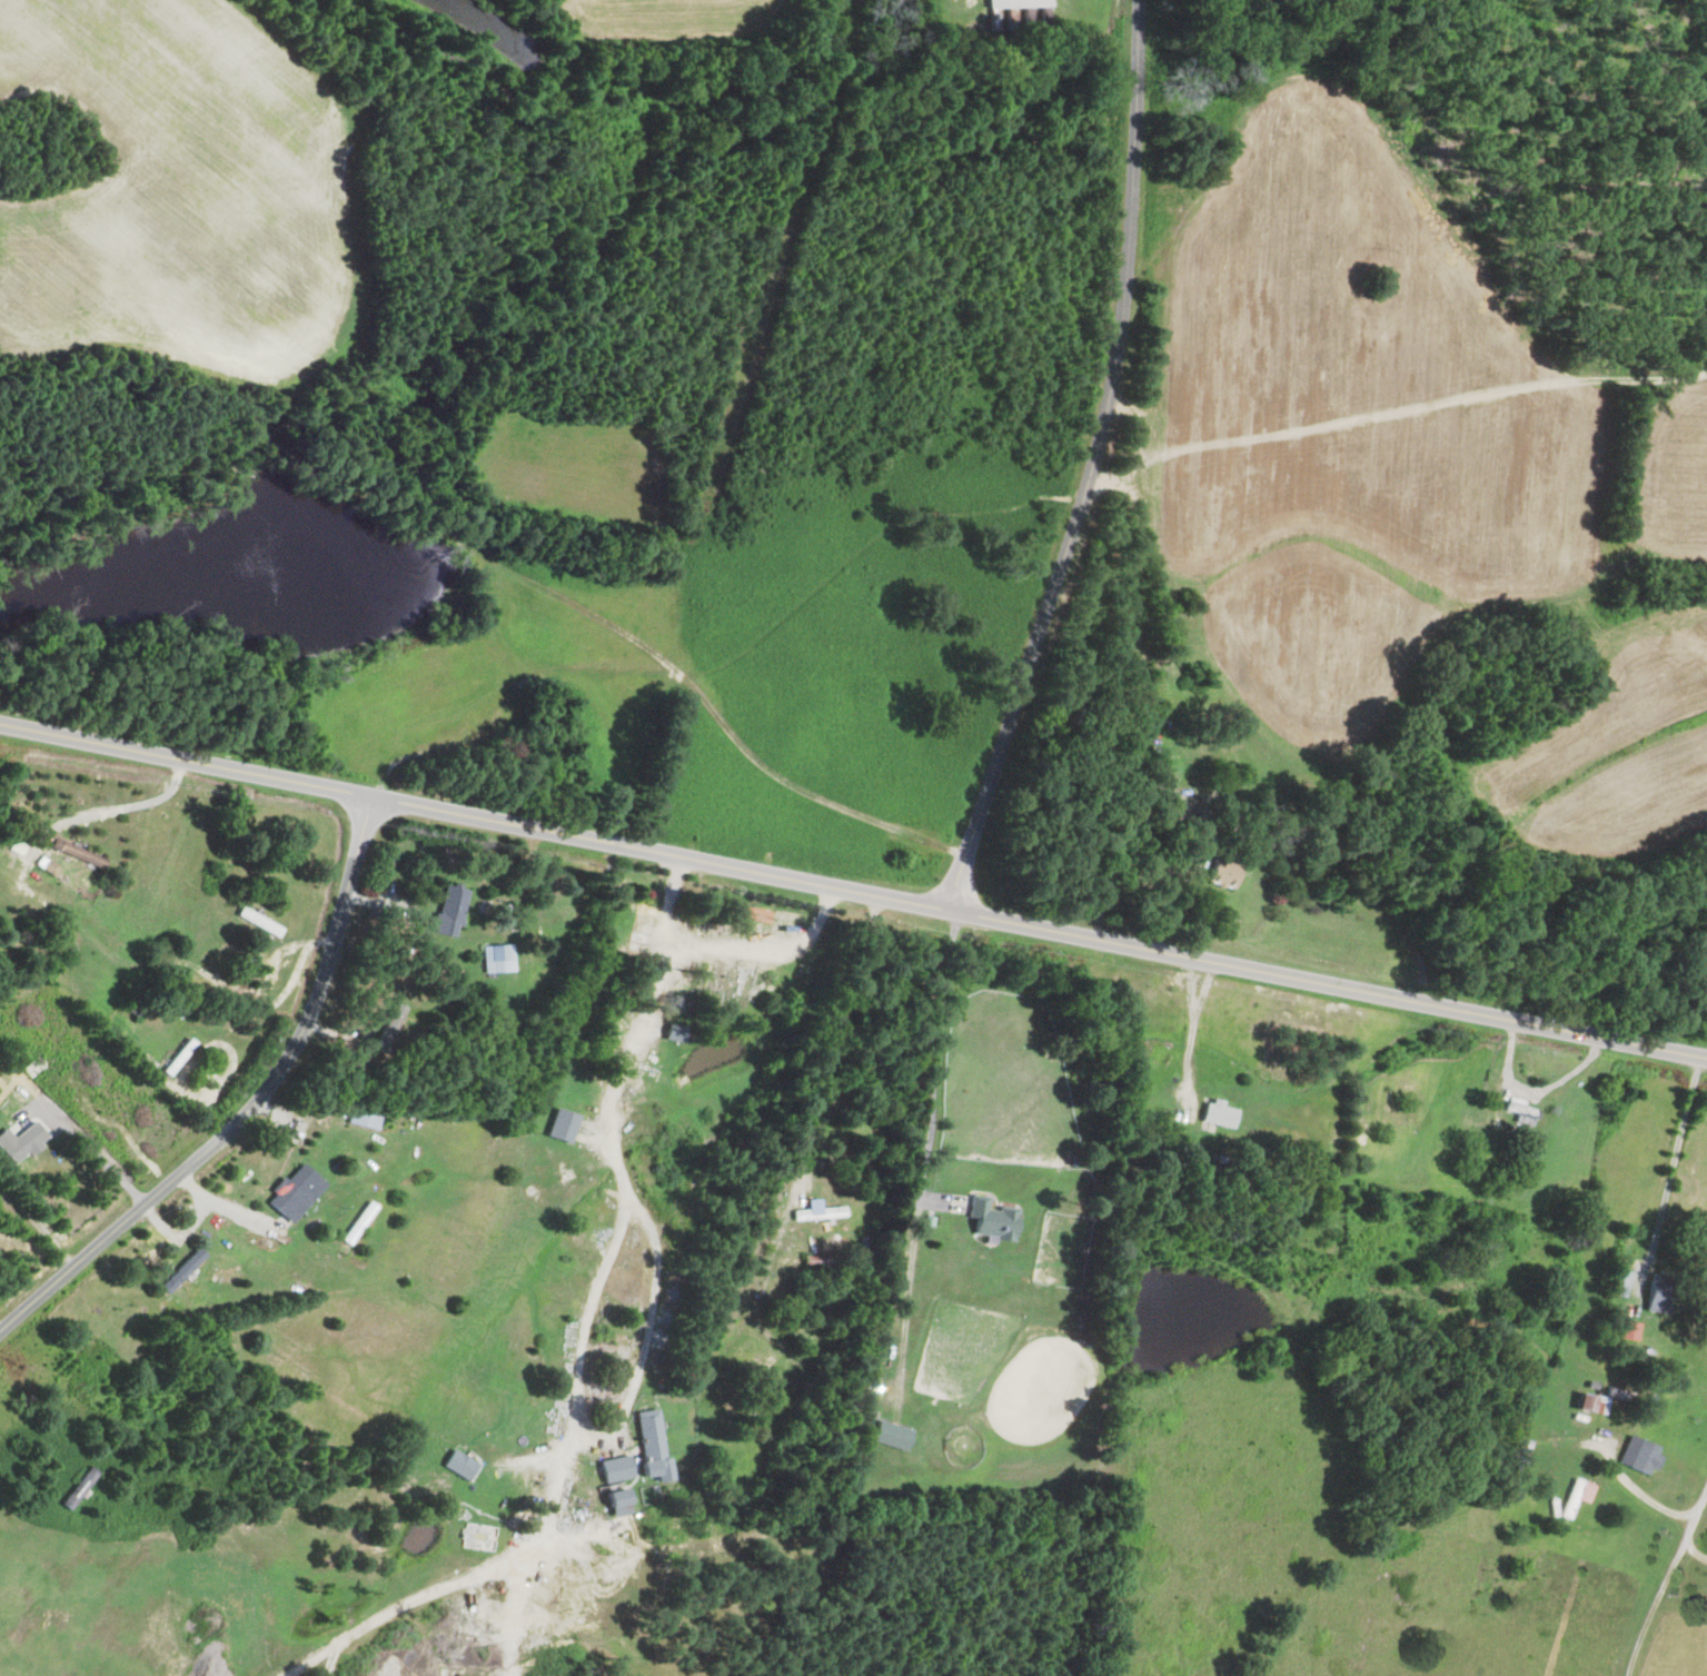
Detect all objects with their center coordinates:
building: (1013, 3)
road: (1092, 462)
building: (78, 853)
building: (1220, 872)
road: (854, 887)
building: (449, 911)
building: (259, 922)
road: (763, 950)
building: (498, 959)
road: (257, 1025)
road: (1194, 1025)
building: (674, 1033)
building: (178, 1058)
road: (939, 1064)
road: (248, 1103)
building: (1215, 1113)
building: (363, 1118)
building: (562, 1124)
building: (22, 1142)
road: (106, 1163)
road: (1670, 1174)
building: (296, 1192)
road: (224, 1202)
building: (817, 1212)
building: (991, 1220)
road: (603, 1262)
building: (181, 1271)
building: (1653, 1297)
road: (907, 1300)
building: (1625, 1329)
road: (644, 1339)
building: (1586, 1402)
building: (891, 1436)
building: (651, 1445)
building: (1517, 1455)
building: (1636, 1455)
building: (459, 1466)
building: (615, 1469)
building: (78, 1488)
building: (1574, 1497)
building: (618, 1503)
building: (477, 1537)
road: (1661, 1580)
road: (404, 1607)

